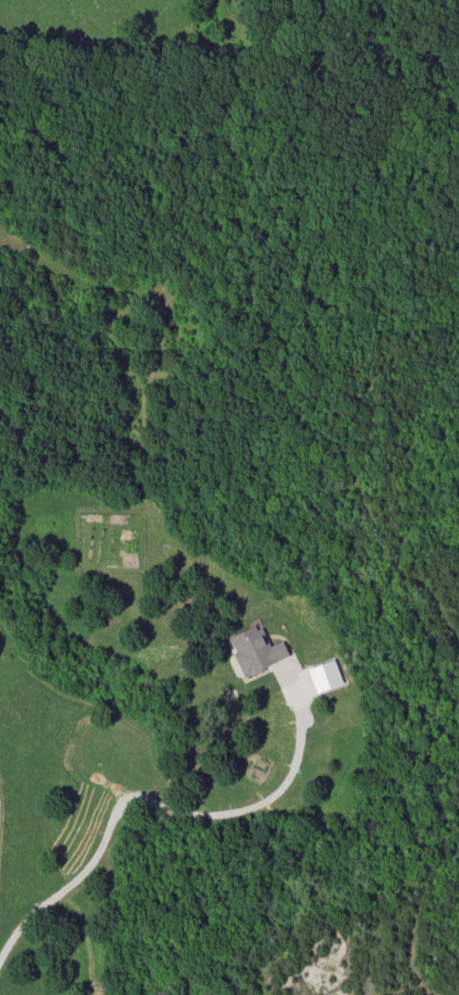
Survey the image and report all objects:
building: (254, 651)
building: (323, 676)
road: (149, 800)

